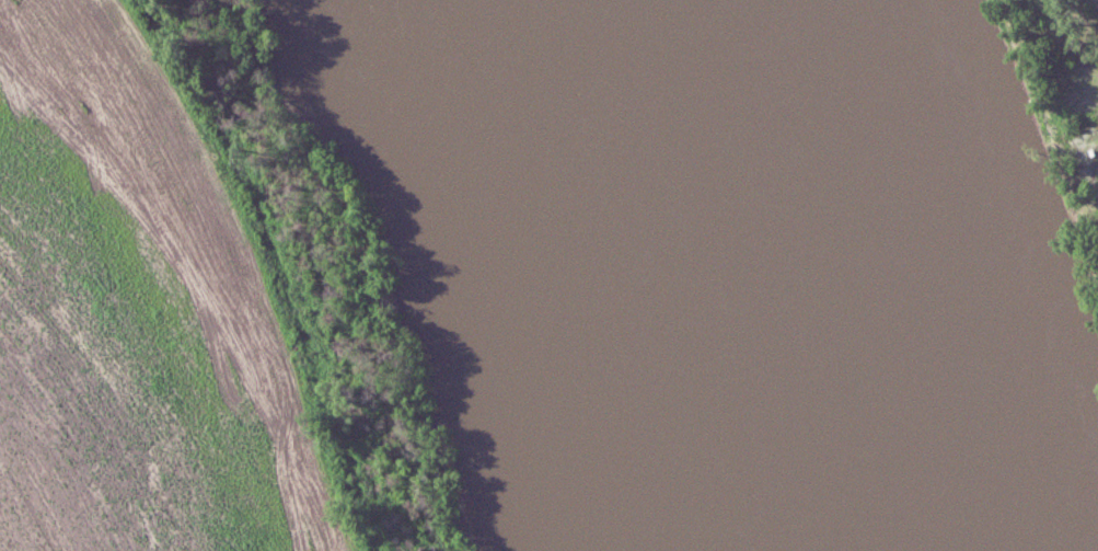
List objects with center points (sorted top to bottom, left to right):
building: (1095, 150)
river: (808, 265)

